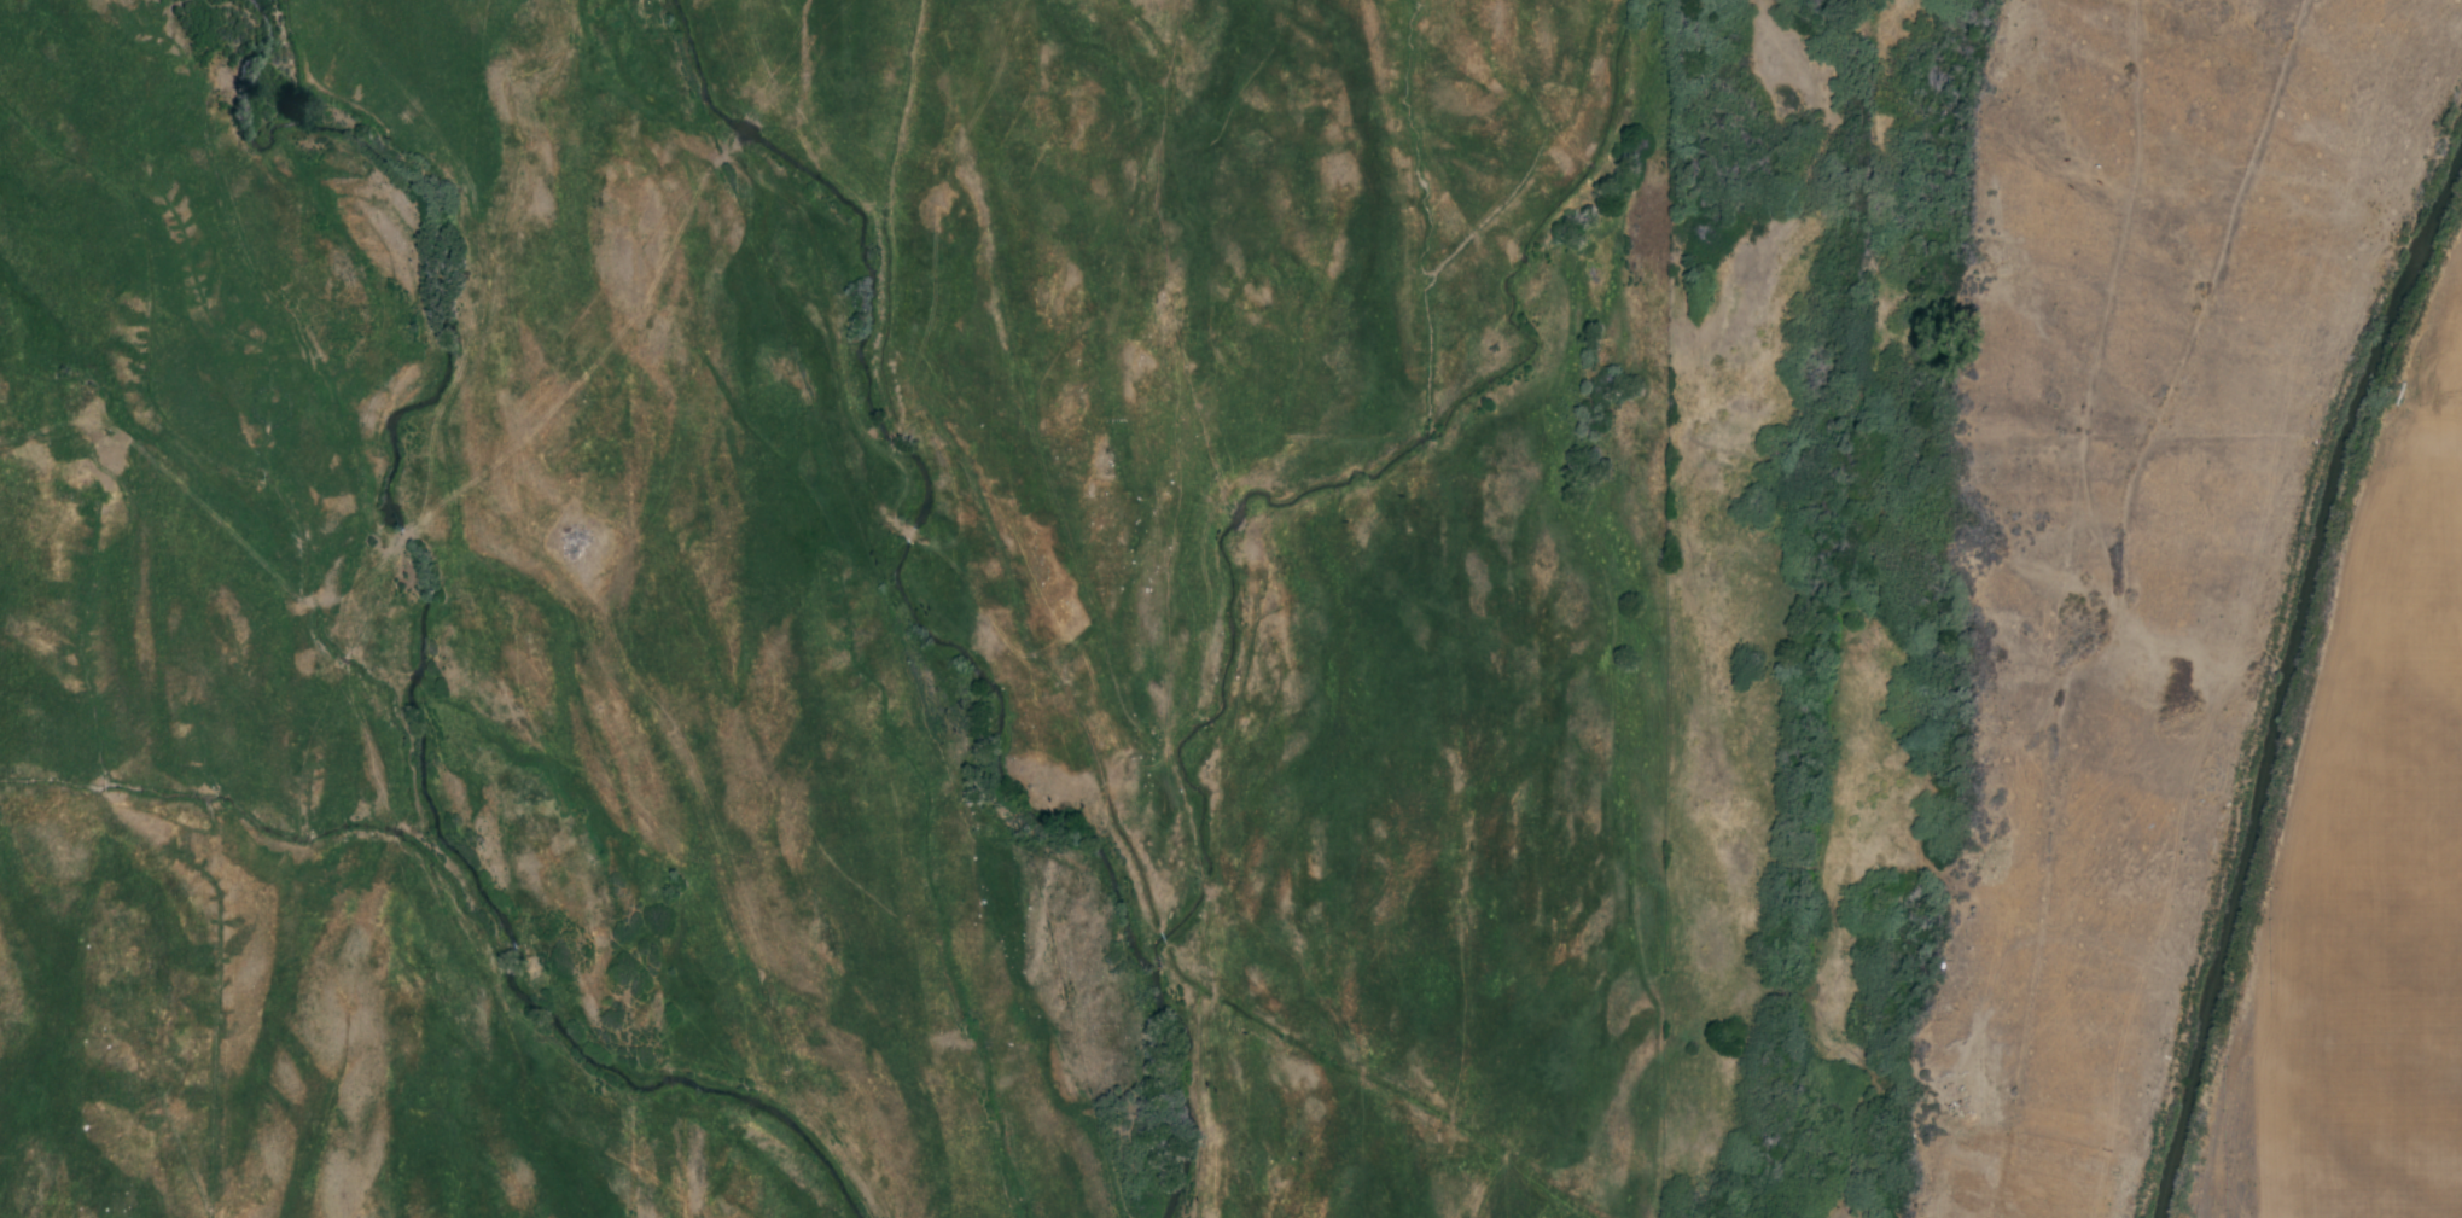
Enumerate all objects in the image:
crop: (2364, 844)

